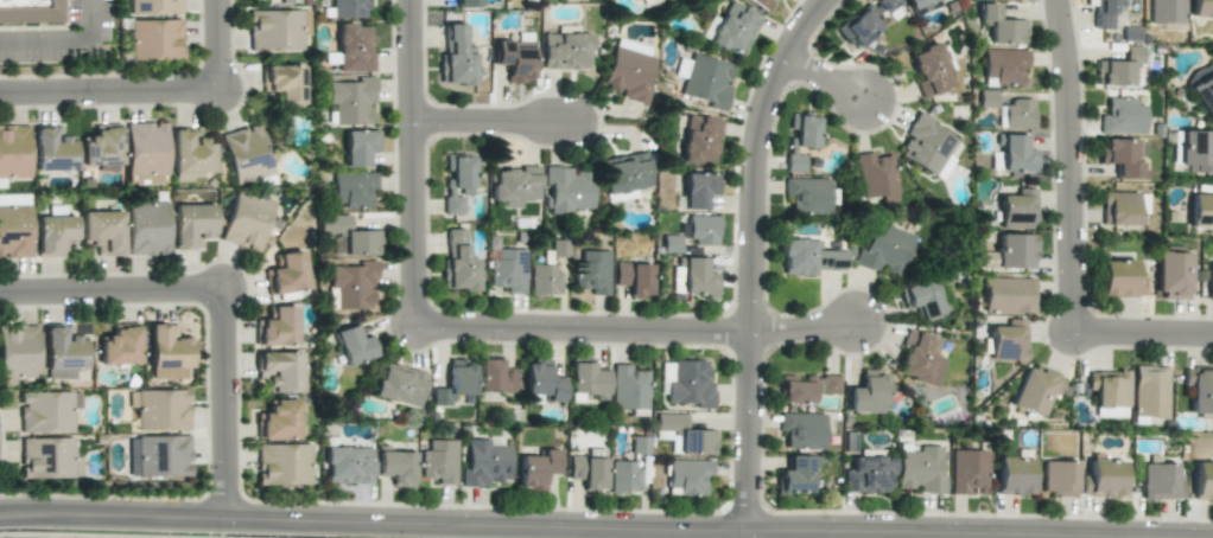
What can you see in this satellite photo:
building: (277, 0)
building: (466, 4)
building: (764, 4)
building: (154, 6)
building: (922, 6)
building: (349, 8)
building: (1201, 8)
building: (30, 11)
building: (1166, 11)
building: (1104, 12)
building: (864, 23)
building: (1001, 26)
building: (274, 30)
building: (154, 39)
road: (64, 40)
road: (215, 46)
building: (353, 49)
building: (565, 49)
building: (456, 57)
building: (515, 58)
building: (1003, 66)
building: (1118, 68)
building: (629, 70)
building: (929, 70)
road: (820, 77)
building: (707, 81)
building: (282, 82)
road: (108, 94)
building: (1204, 94)
building: (351, 101)
building: (1017, 114)
building: (1122, 116)
road: (488, 123)
building: (800, 139)
building: (699, 140)
building: (927, 146)
building: (358, 147)
building: (102, 148)
building: (146, 148)
building: (52, 149)
building: (1196, 150)
building: (13, 152)
building: (190, 152)
building: (246, 154)
building: (1014, 154)
building: (1119, 156)
road: (407, 164)
road: (1065, 166)
building: (876, 177)
building: (457, 182)
building: (514, 186)
building: (353, 188)
building: (566, 190)
building: (699, 190)
building: (806, 196)
building: (13, 199)
building: (1122, 207)
building: (1017, 210)
building: (1201, 210)
building: (246, 222)
building: (191, 225)
building: (146, 229)
building: (701, 229)
building: (14, 230)
building: (102, 231)
building: (52, 233)
building: (350, 236)
building: (884, 250)
building: (1012, 251)
road: (747, 257)
building: (807, 257)
building: (458, 263)
building: (507, 269)
building: (590, 270)
building: (286, 274)
building: (1170, 274)
building: (698, 277)
building: (634, 278)
building: (1119, 278)
building: (544, 280)
building: (1211, 281)
building: (354, 284)
road: (110, 294)
building: (1008, 295)
building: (921, 297)
building: (277, 327)
road: (578, 332)
road: (798, 332)
road: (1141, 335)
building: (1008, 340)
building: (354, 345)
building: (119, 346)
building: (62, 352)
building: (167, 352)
building: (18, 354)
building: (920, 358)
building: (279, 371)
building: (494, 377)
building: (542, 380)
building: (586, 382)
building: (455, 383)
building: (686, 383)
building: (399, 385)
building: (628, 388)
building: (805, 388)
building: (1035, 389)
building: (1199, 390)
building: (1149, 391)
building: (1109, 392)
building: (868, 393)
road: (222, 406)
building: (160, 409)
building: (46, 411)
building: (278, 421)
building: (802, 430)
building: (684, 435)
building: (158, 456)
building: (47, 459)
building: (439, 461)
building: (484, 463)
building: (282, 465)
building: (348, 465)
building: (396, 467)
building: (588, 468)
building: (536, 469)
building: (921, 469)
building: (967, 472)
building: (866, 474)
building: (795, 475)
building: (1012, 475)
building: (623, 476)
building: (687, 476)
building: (1058, 479)
building: (1101, 479)
building: (1160, 481)
building: (1202, 482)
road: (516, 527)

